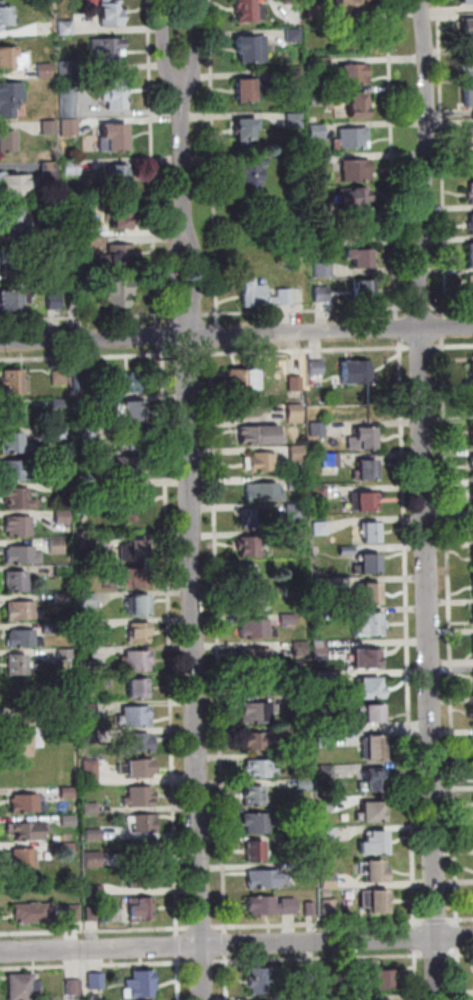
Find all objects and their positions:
building: (294, 1)
building: (467, 2)
building: (349, 6)
building: (246, 11)
building: (315, 11)
building: (112, 13)
building: (6, 16)
building: (467, 28)
building: (67, 29)
building: (294, 35)
road: (165, 43)
road: (198, 45)
building: (109, 50)
building: (251, 50)
building: (13, 60)
building: (324, 63)
building: (68, 69)
building: (468, 69)
building: (46, 72)
building: (355, 74)
building: (293, 77)
building: (247, 90)
building: (116, 95)
building: (317, 97)
building: (11, 99)
building: (469, 99)
building: (69, 103)
building: (356, 105)
building: (295, 120)
building: (50, 128)
building: (70, 128)
building: (246, 132)
building: (469, 136)
building: (115, 139)
building: (354, 139)
building: (7, 142)
road: (443, 159)
road: (393, 160)
road: (214, 163)
road: (153, 164)
road: (428, 164)
road: (183, 167)
building: (72, 169)
building: (50, 171)
building: (357, 171)
building: (252, 175)
building: (118, 181)
building: (18, 186)
building: (471, 194)
building: (355, 198)
building: (123, 217)
building: (16, 224)
building: (472, 225)
building: (75, 230)
building: (363, 230)
building: (51, 234)
building: (321, 243)
building: (80, 248)
building: (360, 255)
building: (471, 257)
building: (13, 261)
building: (118, 261)
building: (324, 270)
road: (199, 275)
road: (174, 276)
building: (472, 287)
building: (365, 292)
building: (120, 294)
building: (254, 295)
building: (322, 295)
building: (285, 297)
building: (15, 301)
building: (55, 303)
building: (76, 303)
road: (451, 306)
road: (421, 308)
road: (306, 311)
road: (187, 316)
road: (86, 318)
road: (447, 328)
road: (398, 329)
road: (445, 329)
road: (211, 335)
road: (160, 336)
road: (215, 337)
road: (452, 346)
road: (422, 348)
road: (305, 351)
road: (188, 355)
road: (88, 358)
building: (472, 366)
building: (317, 368)
building: (356, 373)
building: (59, 379)
building: (243, 381)
building: (15, 383)
building: (83, 384)
building: (123, 384)
building: (296, 384)
building: (60, 404)
building: (84, 404)
building: (131, 412)
building: (295, 414)
building: (15, 416)
building: (318, 430)
building: (90, 433)
building: (61, 434)
building: (260, 436)
building: (472, 436)
building: (364, 440)
building: (139, 442)
building: (16, 445)
building: (297, 454)
building: (83, 460)
building: (61, 461)
building: (331, 461)
building: (264, 463)
building: (470, 464)
building: (126, 467)
building: (17, 471)
building: (367, 472)
building: (295, 483)
building: (62, 487)
building: (83, 488)
building: (264, 493)
building: (319, 493)
building: (472, 493)
building: (19, 499)
building: (128, 504)
building: (363, 504)
building: (295, 512)
building: (62, 517)
building: (252, 520)
building: (472, 525)
building: (20, 527)
building: (320, 529)
building: (370, 535)
building: (299, 536)
building: (87, 544)
building: (57, 546)
building: (248, 548)
building: (134, 551)
building: (347, 551)
building: (22, 556)
building: (471, 557)
building: (372, 566)
building: (64, 571)
building: (248, 576)
building: (137, 578)
building: (16, 582)
building: (322, 585)
building: (472, 585)
building: (292, 592)
building: (369, 594)
building: (61, 599)
building: (88, 601)
building: (255, 603)
building: (139, 607)
building: (23, 612)
building: (332, 615)
building: (472, 615)
building: (289, 619)
building: (370, 626)
building: (87, 627)
building: (50, 628)
building: (257, 631)
road: (450, 633)
building: (140, 634)
road: (407, 634)
building: (24, 640)
road: (170, 640)
road: (218, 641)
building: (472, 647)
road: (195, 648)
building: (320, 648)
building: (300, 649)
building: (66, 655)
building: (88, 655)
building: (261, 659)
building: (368, 659)
building: (136, 662)
road: (431, 664)
building: (19, 666)
building: (300, 676)
building: (324, 680)
building: (88, 681)
building: (139, 687)
building: (259, 687)
building: (371, 691)
building: (302, 701)
building: (65, 706)
building: (89, 709)
building: (258, 714)
building: (373, 714)
building: (137, 717)
building: (325, 723)
building: (303, 731)
building: (26, 738)
building: (89, 738)
building: (325, 741)
building: (260, 743)
building: (139, 744)
building: (375, 749)
building: (299, 757)
building: (138, 769)
building: (261, 769)
building: (91, 773)
building: (326, 773)
building: (376, 780)
building: (305, 785)
building: (68, 793)
building: (254, 796)
building: (140, 798)
building: (325, 804)
building: (27, 805)
building: (91, 809)
building: (306, 813)
building: (372, 813)
building: (69, 822)
building: (260, 823)
building: (144, 824)
building: (28, 832)
building: (328, 834)
building: (94, 836)
building: (56, 840)
building: (304, 842)
building: (375, 844)
building: (142, 852)
building: (256, 852)
building: (25, 859)
building: (93, 860)
building: (306, 870)
building: (375, 873)
building: (266, 879)
building: (142, 880)
building: (329, 882)
building: (96, 891)
building: (326, 894)
building: (377, 902)
building: (271, 907)
building: (330, 908)
building: (142, 909)
building: (310, 910)
building: (34, 915)
building: (72, 915)
building: (93, 915)
road: (460, 920)
road: (436, 921)
road: (319, 924)
road: (200, 928)
road: (94, 931)
road: (458, 937)
road: (415, 938)
road: (226, 944)
road: (236, 944)
road: (177, 946)
road: (342, 958)
road: (202, 963)
road: (95, 965)
road: (459, 973)
building: (309, 974)
road: (416, 974)
building: (341, 976)
road: (226, 977)
road: (178, 978)
building: (384, 980)
building: (262, 981)
building: (96, 982)
building: (140, 986)
building: (23, 988)
building: (74, 988)
building: (309, 998)
building: (333, 998)
building: (376, 999)

